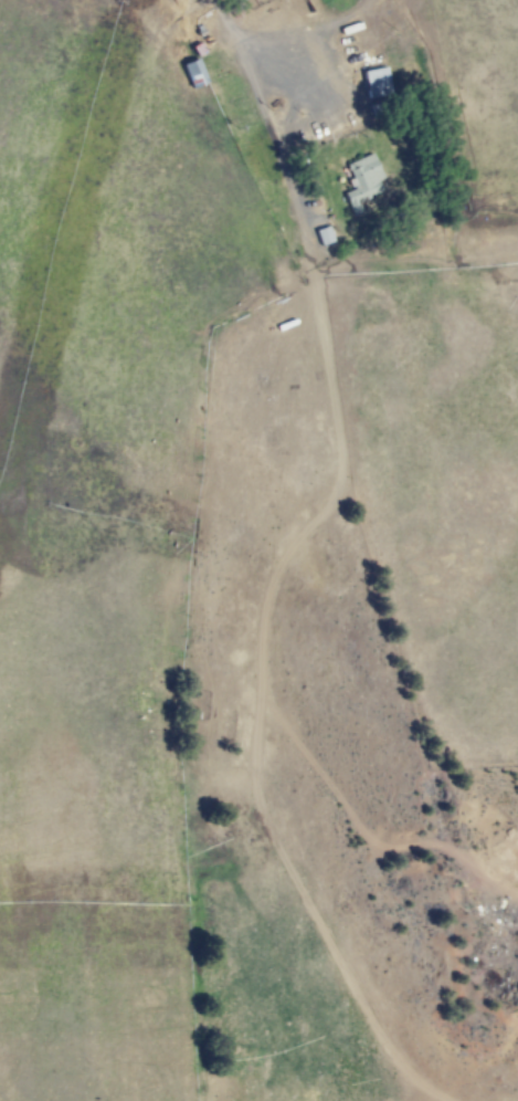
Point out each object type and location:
road: (229, 25)
building: (372, 80)
building: (320, 235)

